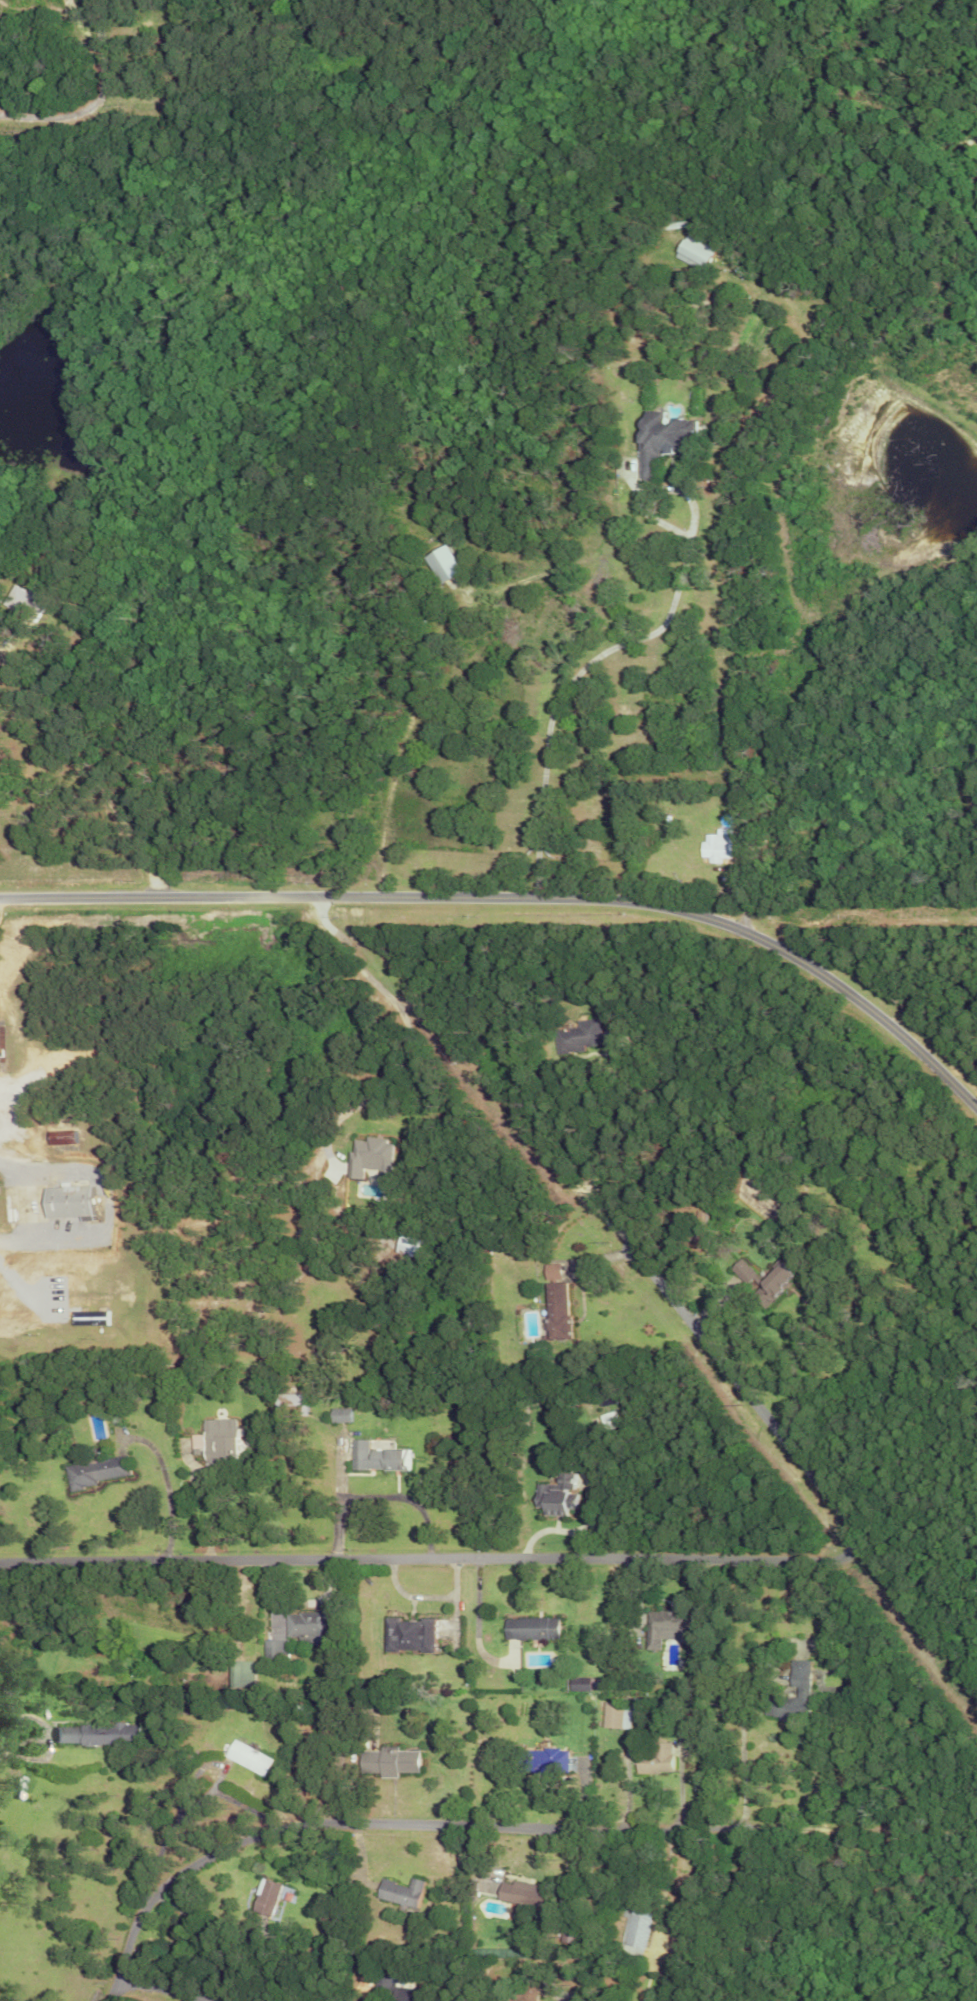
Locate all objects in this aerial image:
road: (78, 109)
building: (693, 250)
building: (659, 440)
building: (445, 563)
road: (590, 660)
building: (714, 846)
road: (522, 900)
building: (579, 1036)
building: (63, 1137)
building: (370, 1155)
building: (68, 1202)
road: (96, 1204)
building: (412, 1247)
building: (548, 1272)
building: (771, 1280)
building: (550, 1311)
building: (89, 1319)
road: (63, 1332)
building: (339, 1414)
building: (376, 1457)
building: (96, 1471)
road: (375, 1496)
building: (558, 1496)
road: (634, 1562)
road: (420, 1597)
road: (291, 1606)
building: (675, 1624)
building: (306, 1625)
building: (541, 1628)
building: (411, 1634)
building: (826, 1641)
building: (272, 1649)
building: (590, 1683)
building: (805, 1690)
building: (619, 1714)
building: (101, 1733)
road: (741, 1750)
building: (249, 1757)
building: (660, 1759)
building: (392, 1761)
road: (374, 1825)
building: (404, 1892)
building: (529, 1893)
building: (266, 1896)
building: (329, 1916)
building: (528, 1989)
building: (410, 1994)
road: (562, 1994)

